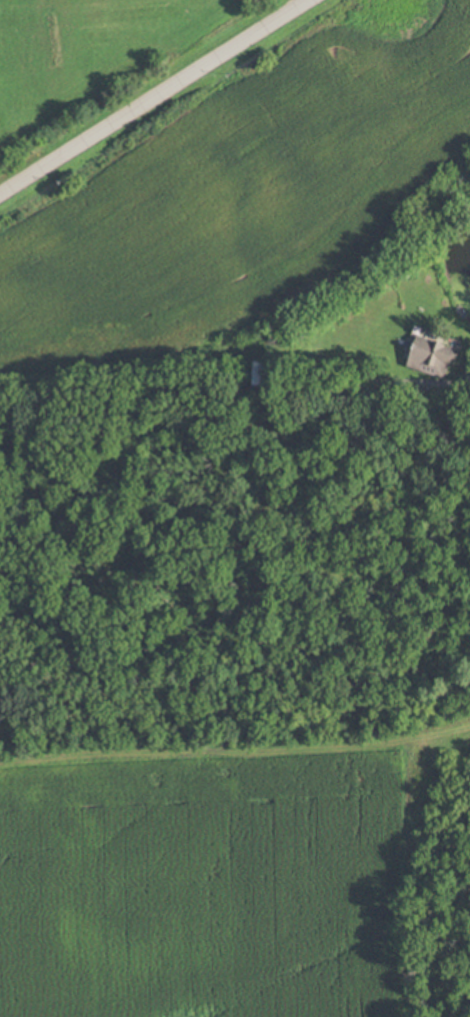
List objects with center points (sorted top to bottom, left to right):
road: (149, 91)
building: (437, 356)
building: (264, 372)

